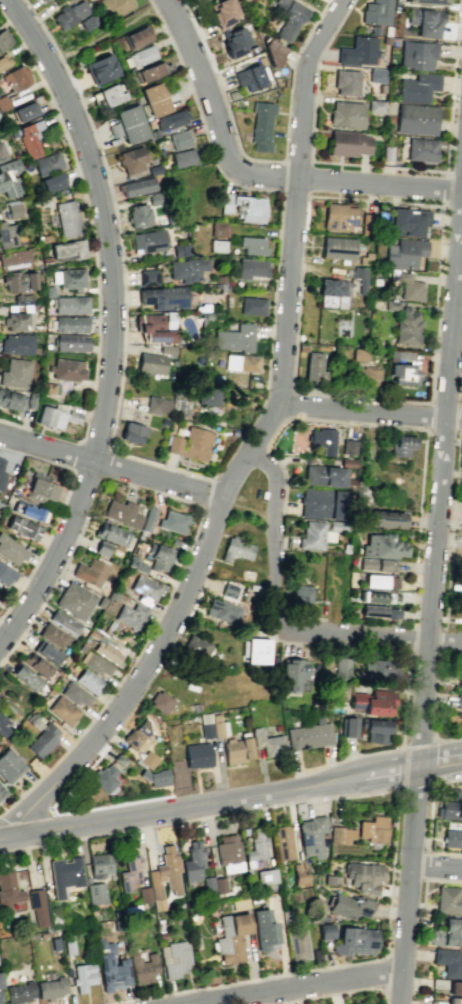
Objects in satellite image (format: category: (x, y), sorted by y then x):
building: (42, 0)
building: (44, 0)
road: (326, 0)
building: (427, 2)
road: (149, 4)
road: (183, 5)
building: (116, 8)
building: (221, 12)
building: (376, 12)
building: (70, 13)
building: (287, 17)
building: (87, 22)
building: (425, 22)
road: (40, 25)
building: (373, 29)
building: (386, 31)
road: (106, 34)
building: (3, 37)
building: (137, 37)
building: (385, 40)
building: (233, 41)
building: (357, 51)
building: (273, 53)
building: (416, 54)
building: (139, 56)
building: (4, 60)
building: (100, 69)
building: (148, 72)
building: (376, 75)
building: (16, 77)
building: (249, 78)
building: (346, 82)
building: (417, 87)
building: (381, 88)
building: (110, 95)
building: (232, 95)
building: (153, 99)
building: (3, 103)
building: (375, 106)
building: (24, 110)
building: (345, 114)
building: (415, 119)
building: (168, 120)
building: (128, 124)
building: (261, 125)
building: (29, 137)
building: (179, 139)
building: (347, 143)
building: (421, 149)
building: (1, 153)
building: (182, 158)
building: (130, 159)
road: (263, 160)
building: (46, 162)
road: (377, 166)
building: (153, 169)
road: (255, 176)
road: (282, 176)
building: (8, 177)
road: (308, 177)
building: (51, 182)
building: (136, 187)
road: (254, 188)
road: (444, 189)
building: (155, 198)
building: (242, 206)
building: (13, 208)
building: (138, 215)
building: (339, 217)
building: (66, 218)
road: (88, 218)
building: (407, 221)
building: (367, 224)
building: (218, 228)
building: (7, 234)
building: (45, 237)
building: (147, 241)
building: (216, 245)
building: (251, 245)
building: (337, 247)
building: (67, 249)
building: (180, 250)
building: (404, 253)
building: (14, 259)
building: (45, 261)
building: (251, 268)
building: (187, 269)
building: (148, 277)
building: (360, 277)
building: (68, 278)
building: (18, 280)
building: (406, 285)
road: (436, 288)
building: (48, 291)
building: (331, 293)
building: (163, 297)
road: (123, 298)
building: (21, 299)
building: (70, 304)
building: (391, 304)
building: (252, 305)
building: (17, 320)
road: (285, 320)
road: (112, 323)
building: (70, 324)
road: (296, 327)
building: (406, 327)
building: (154, 328)
building: (235, 338)
building: (71, 342)
building: (17, 343)
building: (359, 353)
building: (154, 360)
building: (242, 362)
building: (313, 366)
building: (401, 368)
building: (66, 369)
building: (15, 373)
building: (367, 377)
building: (48, 387)
building: (207, 395)
building: (11, 400)
building: (30, 401)
building: (156, 405)
building: (180, 409)
road: (370, 412)
building: (54, 415)
road: (353, 422)
road: (13, 423)
road: (427, 430)
building: (131, 431)
building: (323, 440)
road: (81, 441)
building: (189, 444)
building: (402, 445)
building: (349, 447)
building: (347, 462)
road: (137, 472)
building: (1, 473)
building: (324, 476)
road: (439, 479)
building: (39, 487)
road: (205, 492)
building: (320, 503)
road: (58, 510)
building: (29, 511)
building: (122, 513)
building: (386, 520)
building: (148, 521)
building: (173, 521)
building: (21, 527)
road: (418, 527)
road: (450, 530)
building: (111, 534)
building: (312, 535)
building: (173, 542)
building: (382, 546)
building: (102, 547)
building: (236, 549)
building: (11, 550)
building: (160, 557)
building: (135, 564)
building: (377, 565)
building: (89, 572)
building: (6, 574)
building: (380, 581)
building: (144, 590)
building: (228, 590)
road: (48, 592)
building: (112, 595)
building: (301, 597)
building: (380, 597)
building: (74, 600)
building: (100, 602)
building: (221, 611)
building: (378, 611)
building: (130, 615)
building: (64, 621)
road: (427, 625)
building: (114, 626)
building: (53, 635)
road: (373, 635)
road: (408, 638)
road: (145, 640)
road: (440, 642)
building: (196, 647)
building: (256, 650)
building: (108, 652)
building: (47, 653)
building: (376, 662)
building: (94, 663)
building: (37, 665)
building: (341, 667)
building: (291, 674)
building: (26, 677)
building: (459, 680)
building: (88, 681)
road: (139, 681)
building: (74, 693)
building: (458, 700)
building: (162, 702)
building: (377, 702)
building: (9, 707)
building: (195, 707)
building: (62, 710)
road: (434, 711)
building: (31, 719)
building: (4, 726)
building: (348, 727)
building: (206, 730)
building: (217, 730)
building: (375, 731)
building: (137, 736)
building: (308, 736)
building: (42, 740)
road: (419, 742)
building: (268, 743)
road: (391, 747)
building: (237, 750)
road: (437, 753)
building: (198, 755)
building: (119, 759)
building: (148, 759)
road: (434, 761)
building: (9, 765)
road: (401, 766)
road: (439, 770)
road: (364, 776)
building: (155, 777)
building: (105, 778)
road: (416, 786)
building: (2, 792)
building: (451, 806)
road: (155, 811)
road: (67, 812)
road: (398, 814)
road: (429, 819)
building: (373, 829)
building: (335, 834)
building: (311, 835)
building: (452, 838)
building: (283, 842)
building: (255, 848)
building: (228, 853)
building: (192, 861)
building: (99, 865)
road: (426, 865)
road: (436, 866)
building: (168, 869)
building: (65, 871)
building: (129, 871)
building: (299, 875)
building: (363, 875)
building: (266, 876)
road: (429, 879)
building: (328, 880)
building: (208, 884)
building: (219, 885)
road: (408, 885)
building: (8, 890)
building: (95, 893)
building: (144, 894)
building: (156, 897)
building: (448, 900)
building: (349, 905)
building: (37, 906)
building: (131, 909)
building: (321, 917)
building: (264, 929)
building: (325, 930)
building: (446, 933)
building: (231, 937)
building: (354, 940)
building: (54, 944)
building: (297, 945)
building: (68, 947)
building: (174, 958)
building: (448, 962)
building: (109, 965)
building: (142, 967)
building: (83, 976)
building: (438, 983)
road: (299, 986)
building: (51, 988)
building: (455, 988)
building: (19, 991)
road: (381, 991)
road: (317, 995)
building: (454, 1000)
building: (0, 1002)
building: (359, 1002)
building: (435, 1002)

